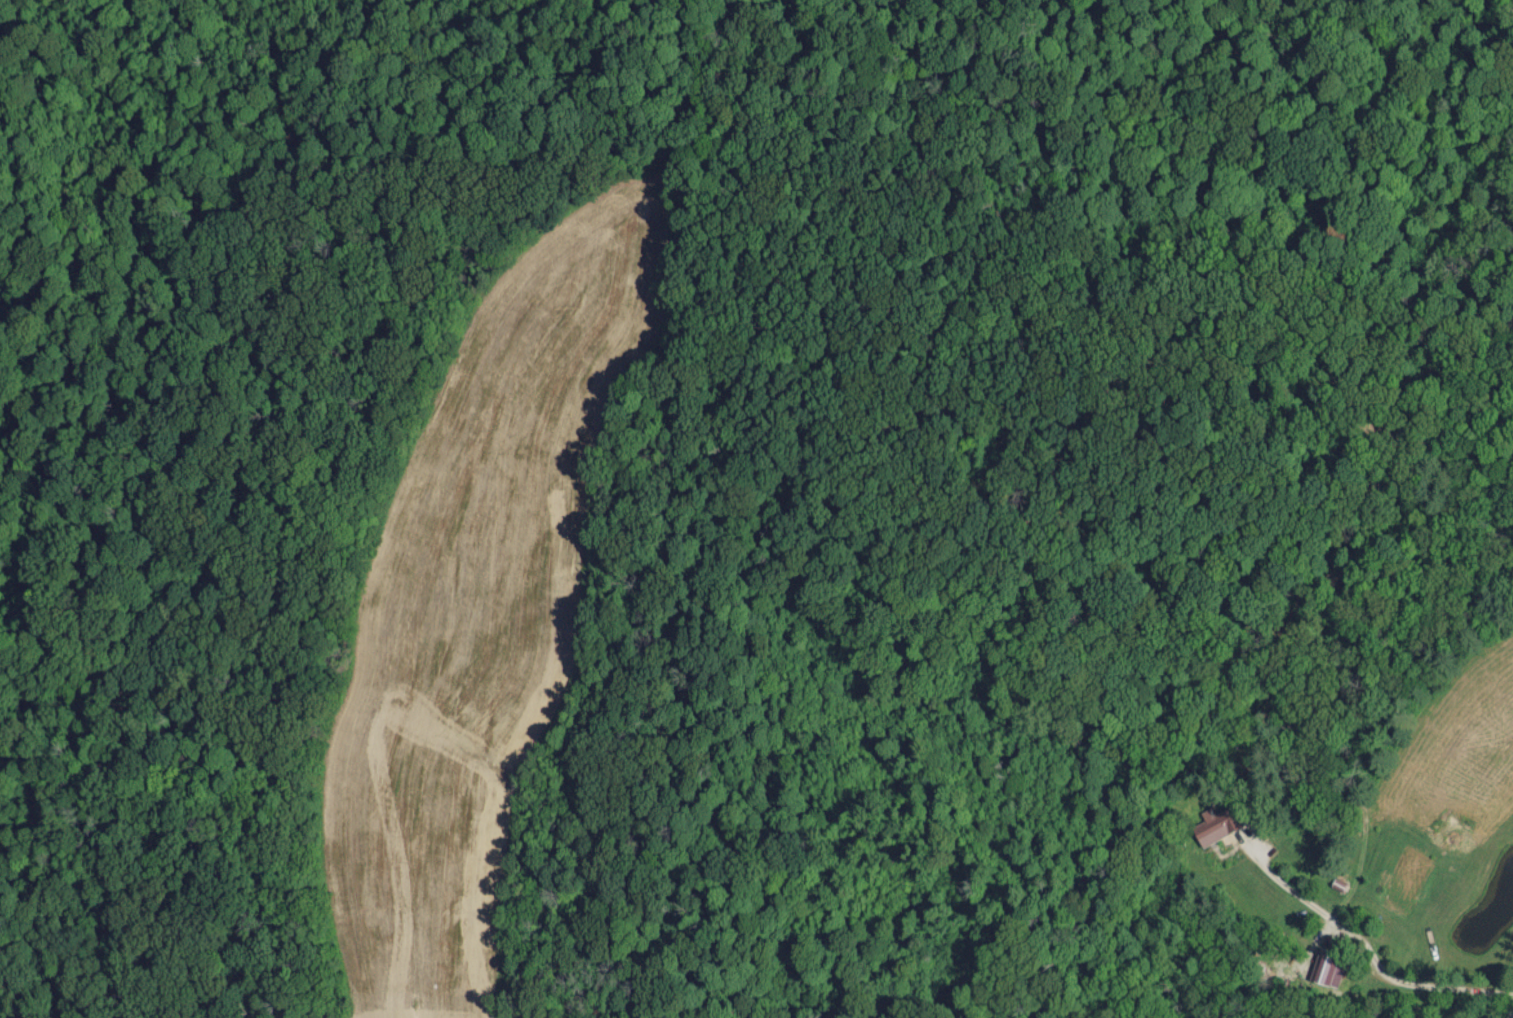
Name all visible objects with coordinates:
building: (1215, 829)
building: (1331, 973)

